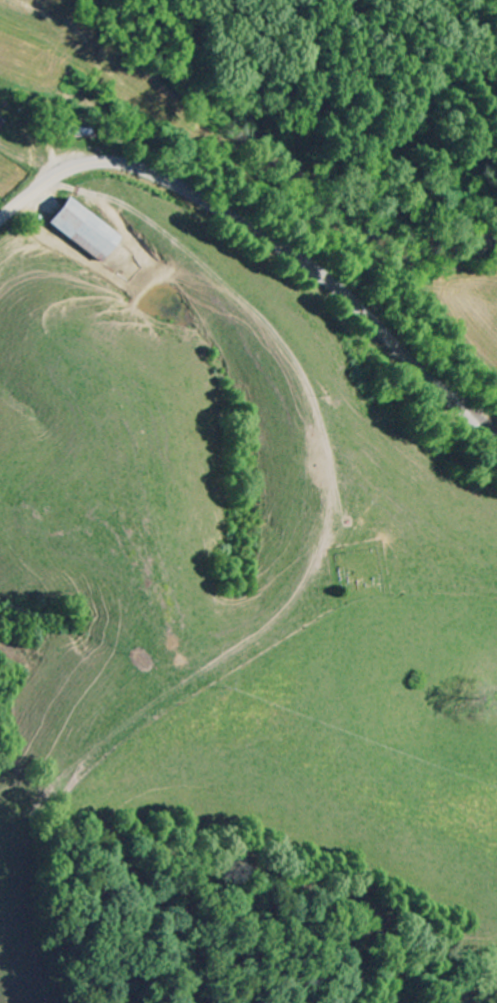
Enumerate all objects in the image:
river: (288, 167)
building: (83, 230)
road: (265, 239)

